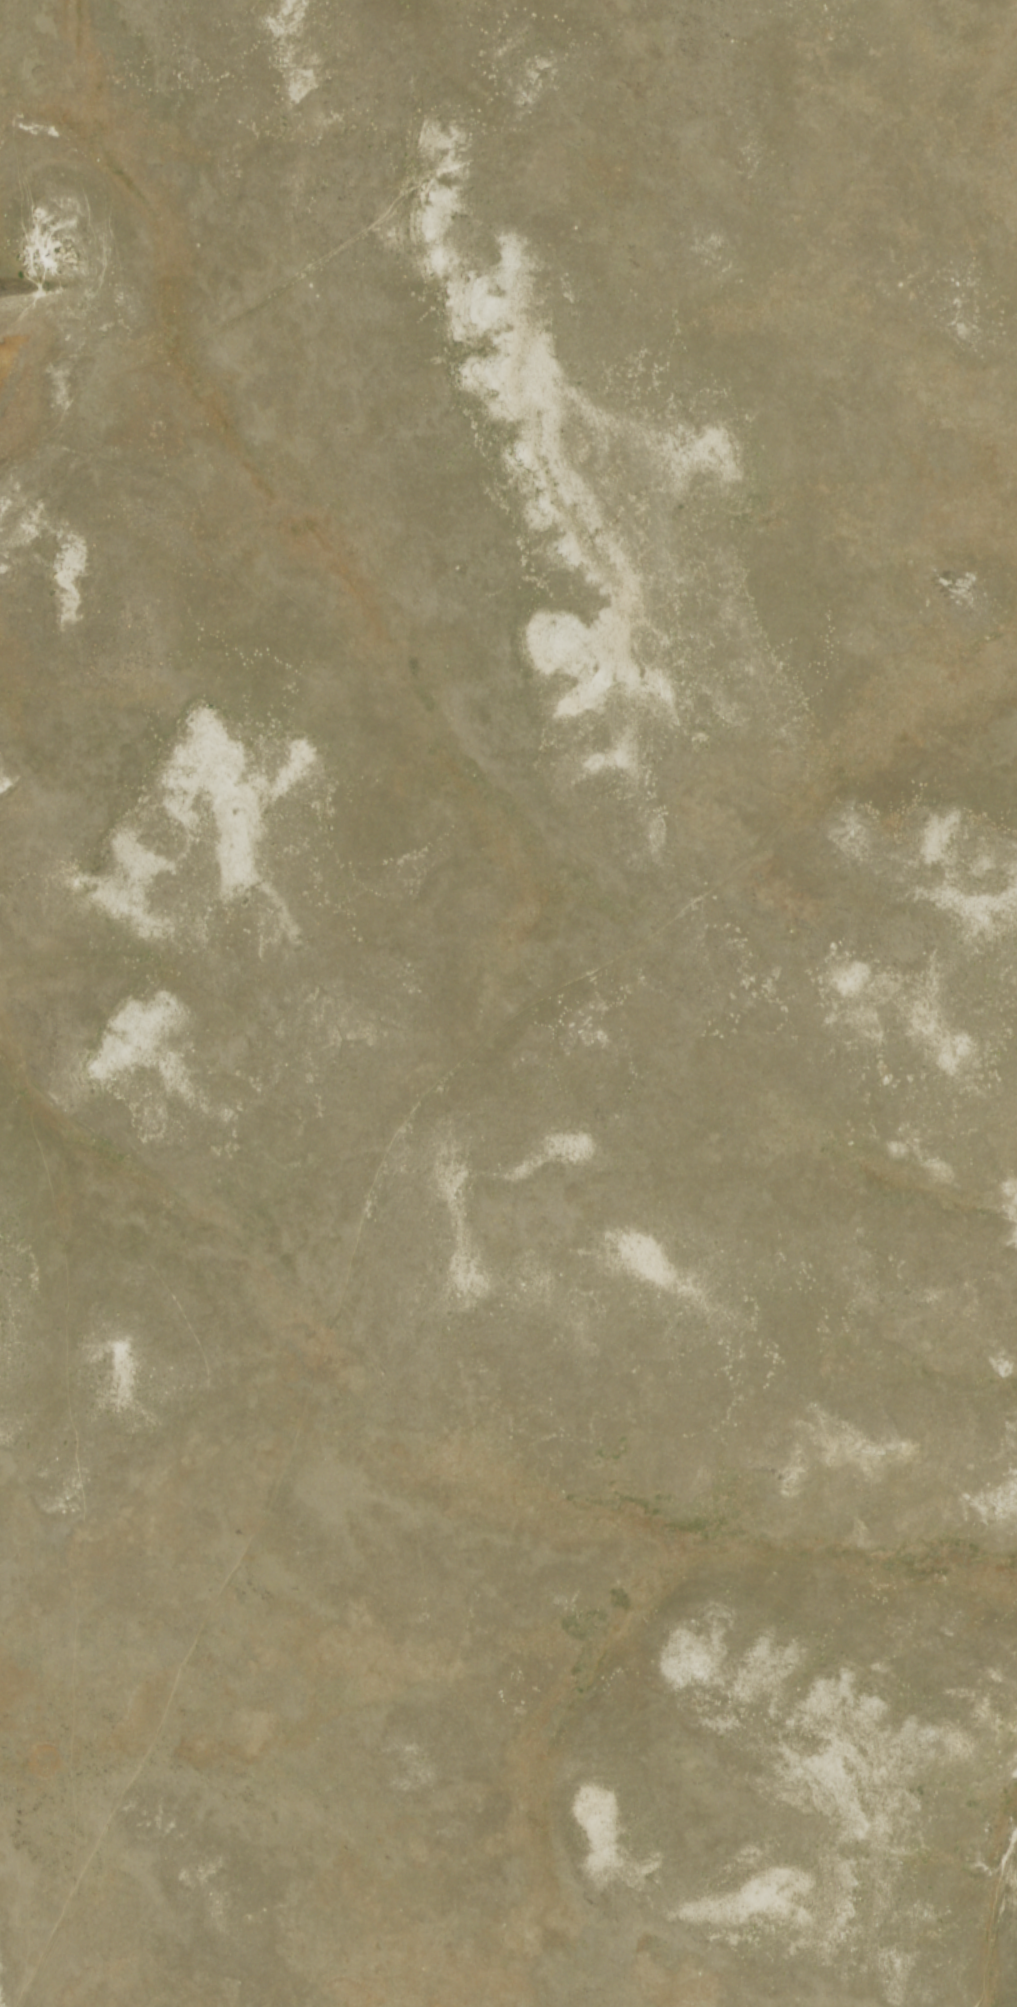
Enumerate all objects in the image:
dam: (28, 301)

